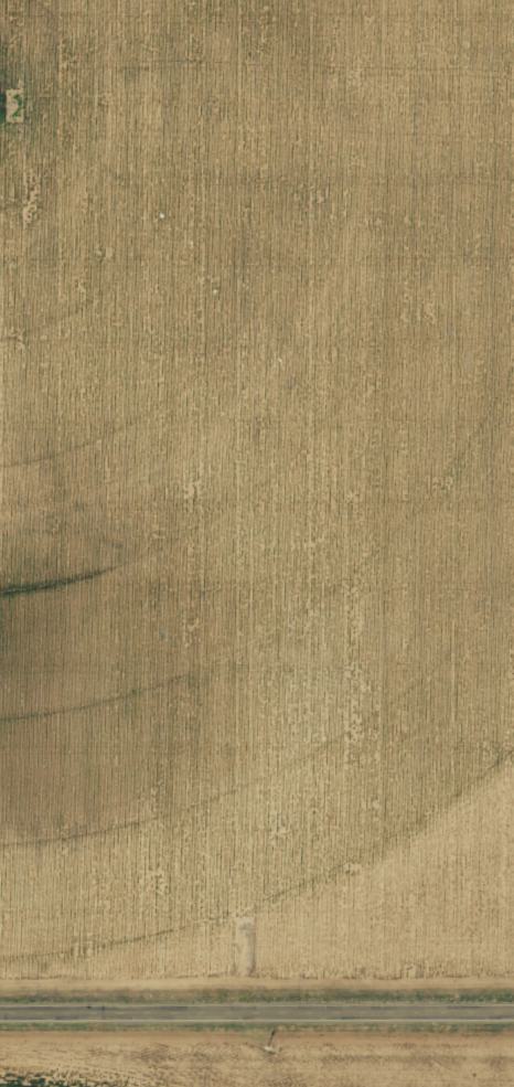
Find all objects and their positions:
road: (257, 1020)

